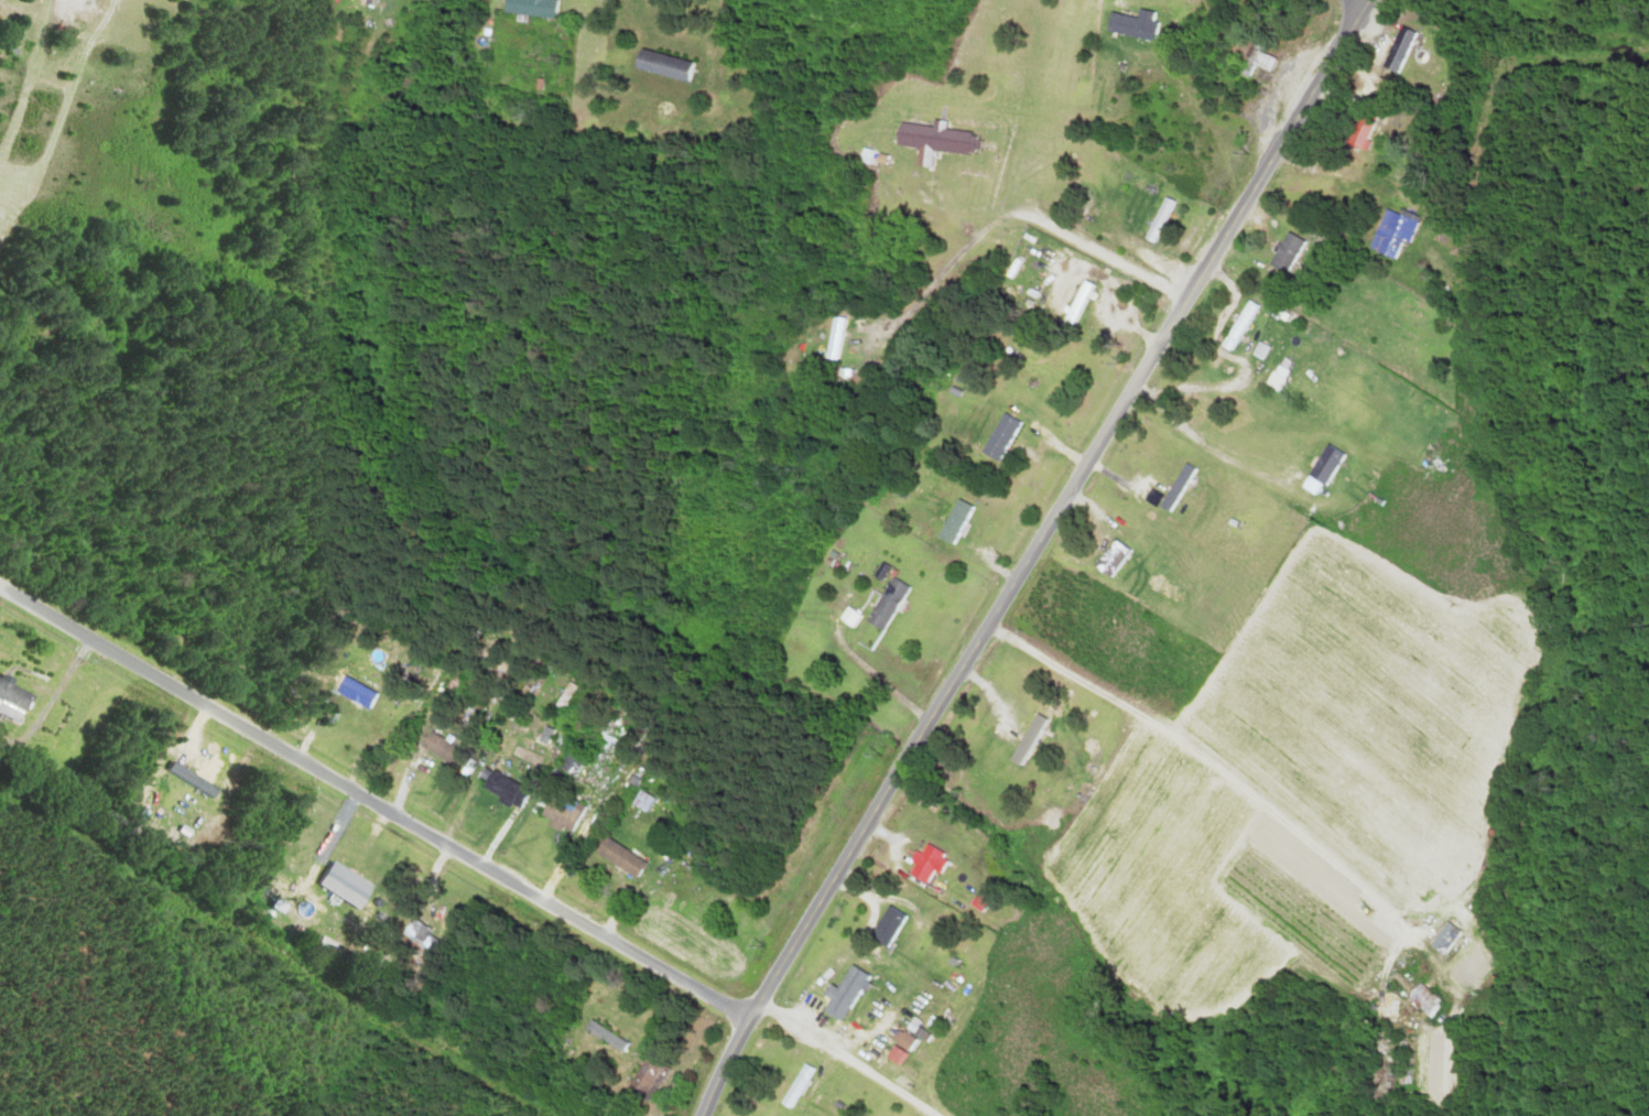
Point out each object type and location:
building: (530, 7)
building: (80, 11)
building: (1131, 24)
building: (1395, 53)
building: (1250, 59)
building: (660, 64)
building: (1359, 128)
building: (933, 141)
building: (1160, 217)
building: (1390, 232)
building: (1284, 252)
building: (1076, 304)
building: (1237, 326)
building: (834, 340)
building: (998, 437)
building: (1319, 469)
building: (1175, 487)
building: (954, 522)
road: (1031, 555)
building: (1109, 557)
building: (886, 604)
building: (849, 617)
building: (355, 692)
building: (12, 694)
building: (1027, 732)
building: (436, 747)
building: (501, 790)
road: (373, 800)
building: (640, 802)
building: (560, 811)
building: (617, 858)
building: (925, 864)
building: (349, 902)
building: (887, 928)
building: (419, 940)
building: (842, 994)
building: (1423, 1000)
building: (795, 1086)

